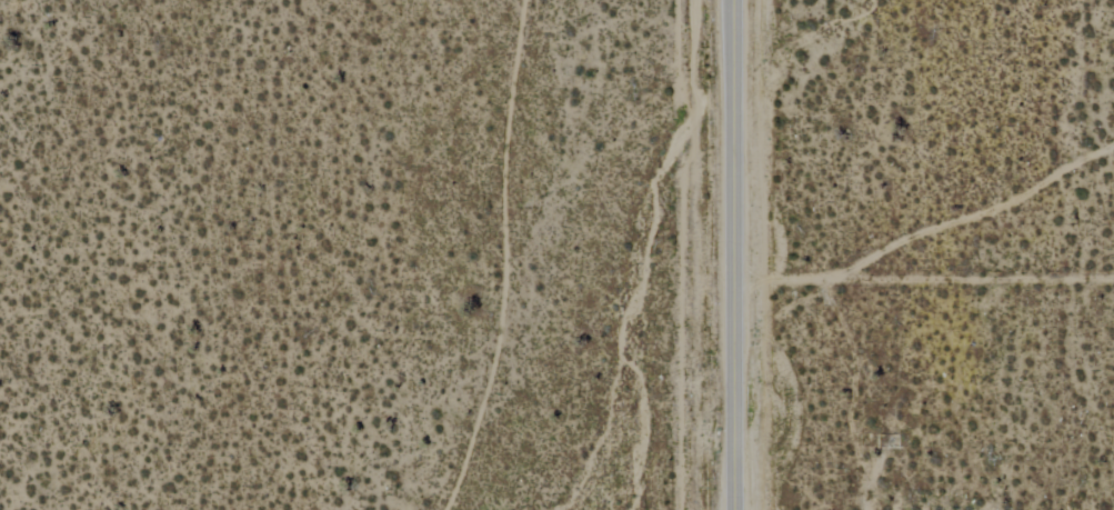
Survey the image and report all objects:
road: (729, 254)

